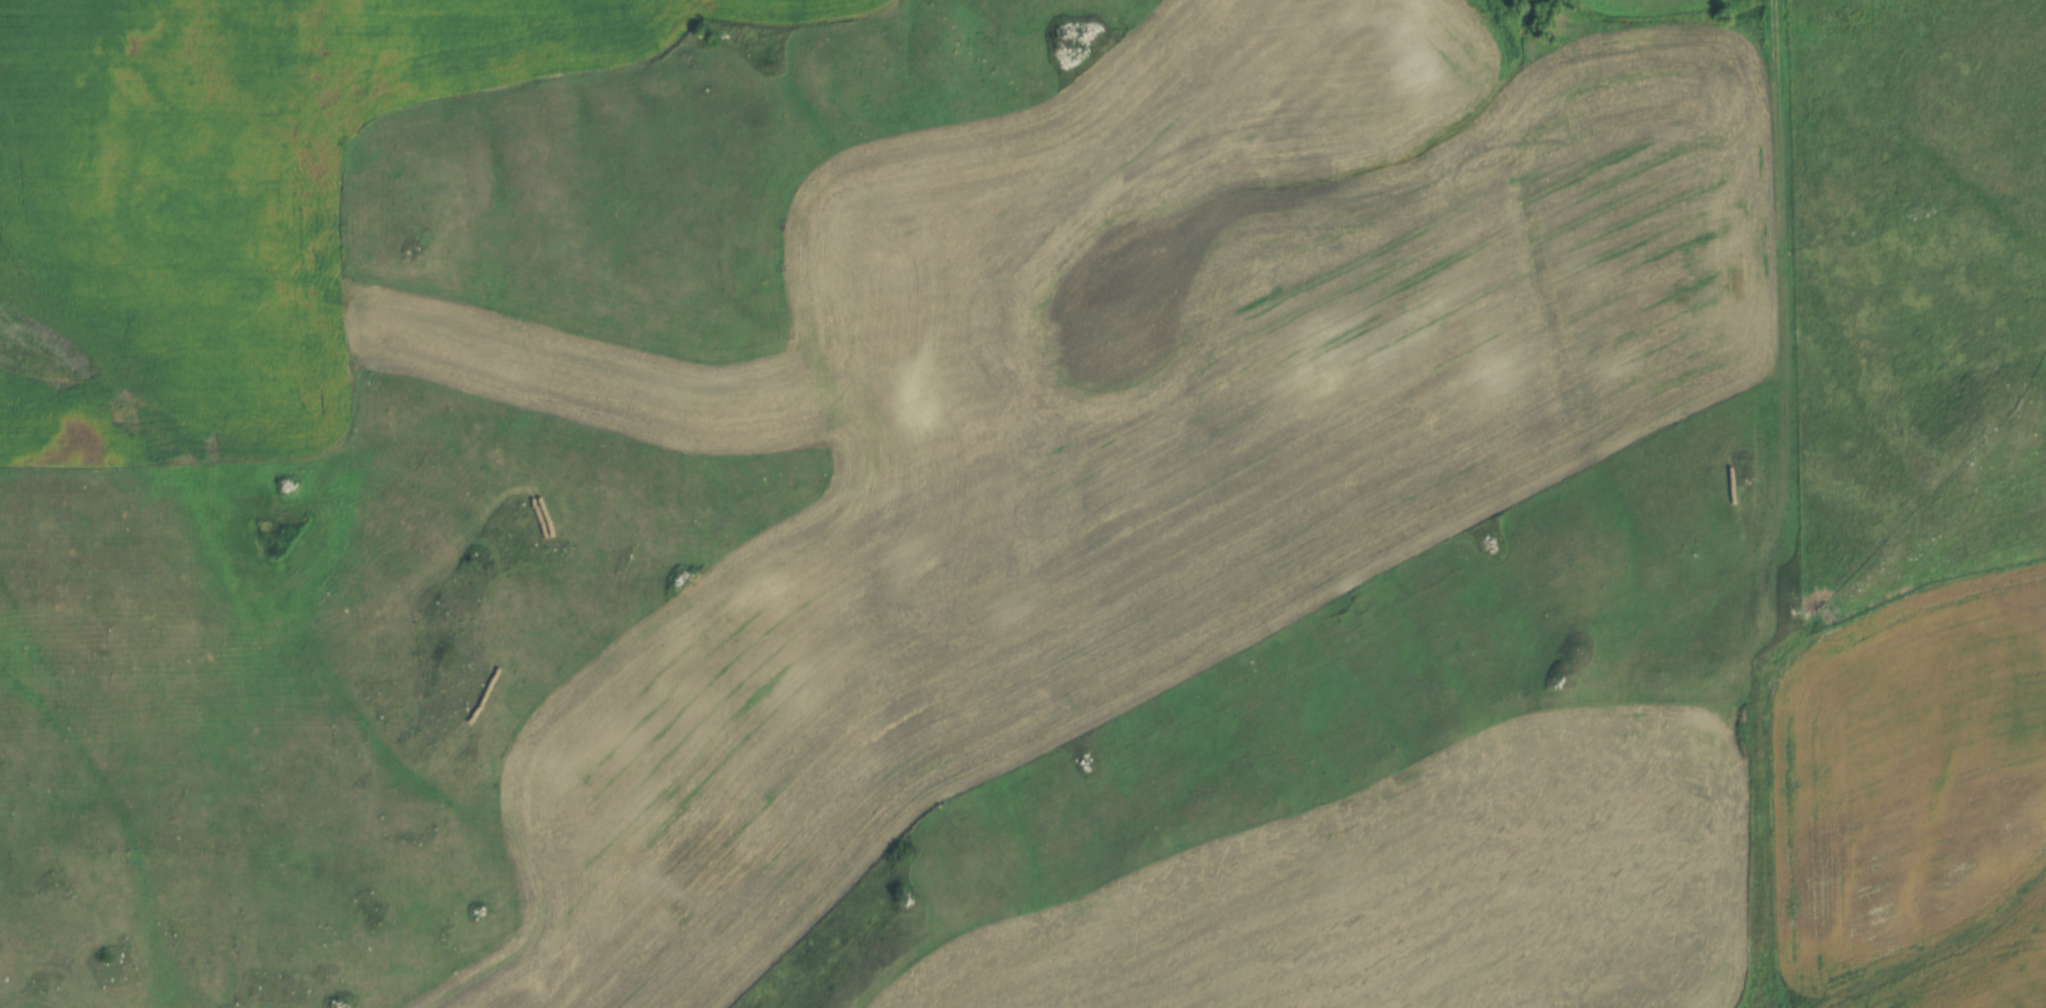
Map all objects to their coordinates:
road: (1787, 325)

